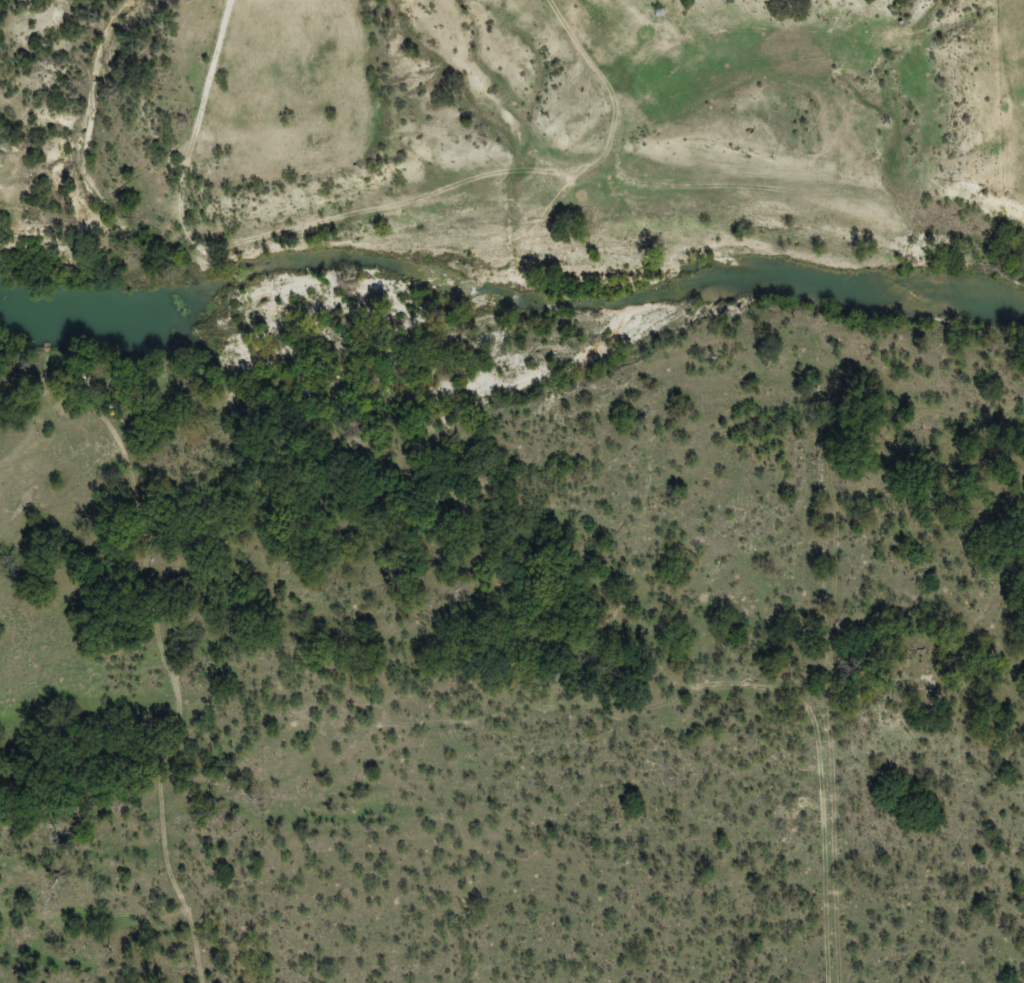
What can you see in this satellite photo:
road: (202, 87)
river: (511, 297)
road: (635, 681)

